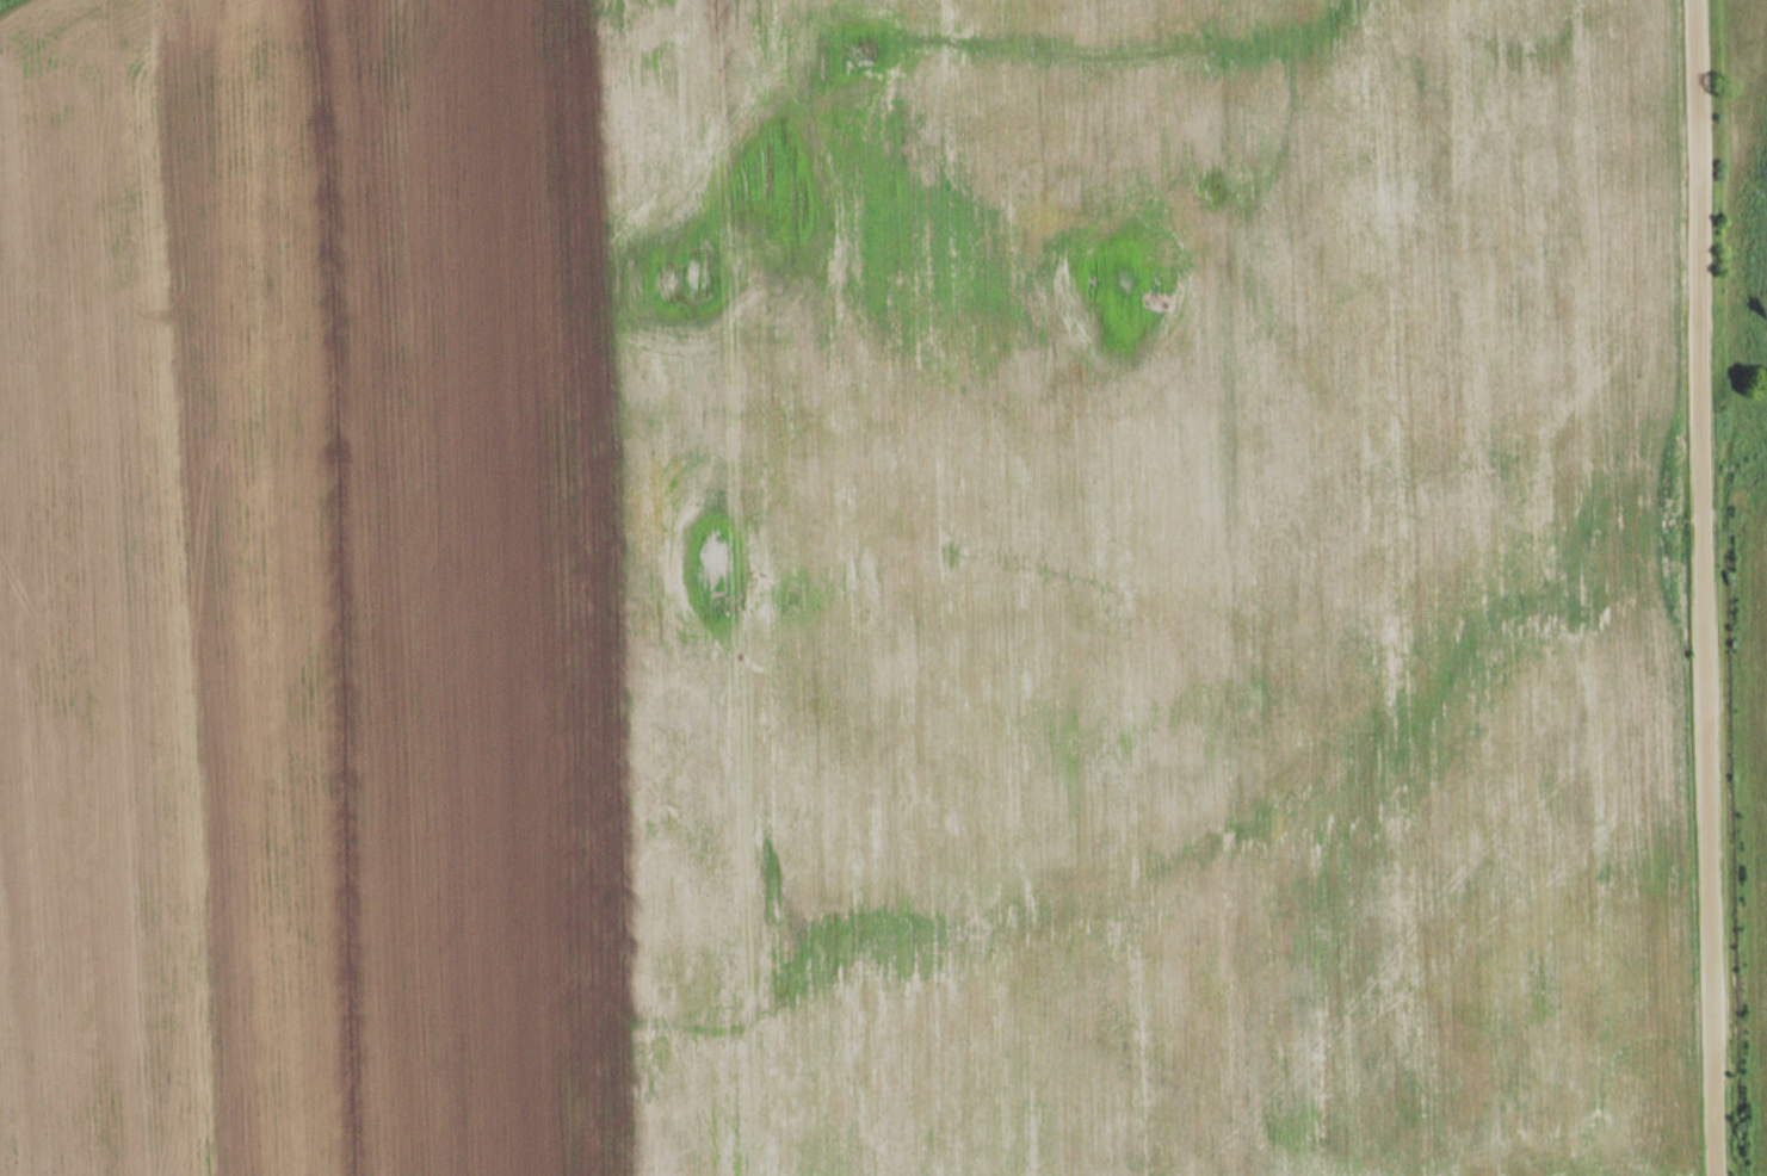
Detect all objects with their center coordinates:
road: (1703, 588)

